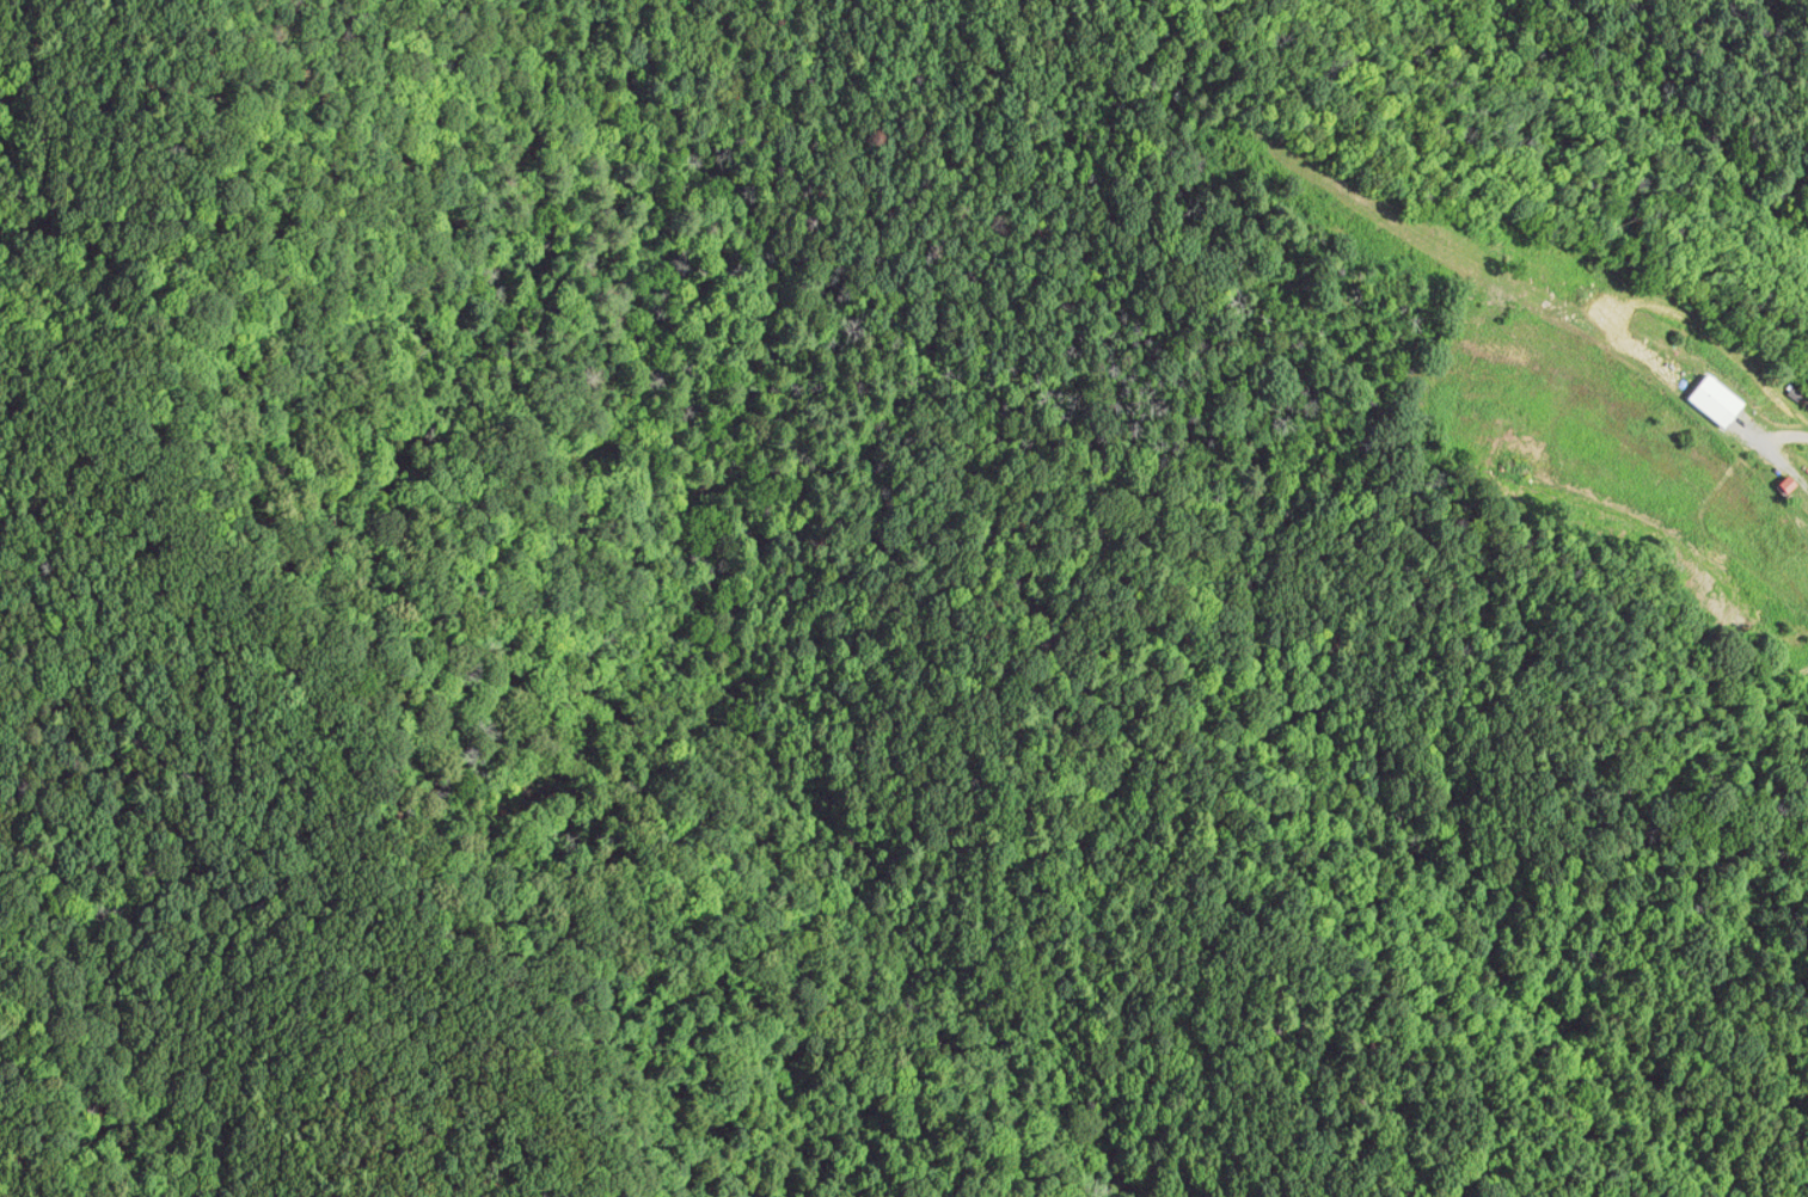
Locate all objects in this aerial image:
road: (1672, 113)
road: (1758, 460)

